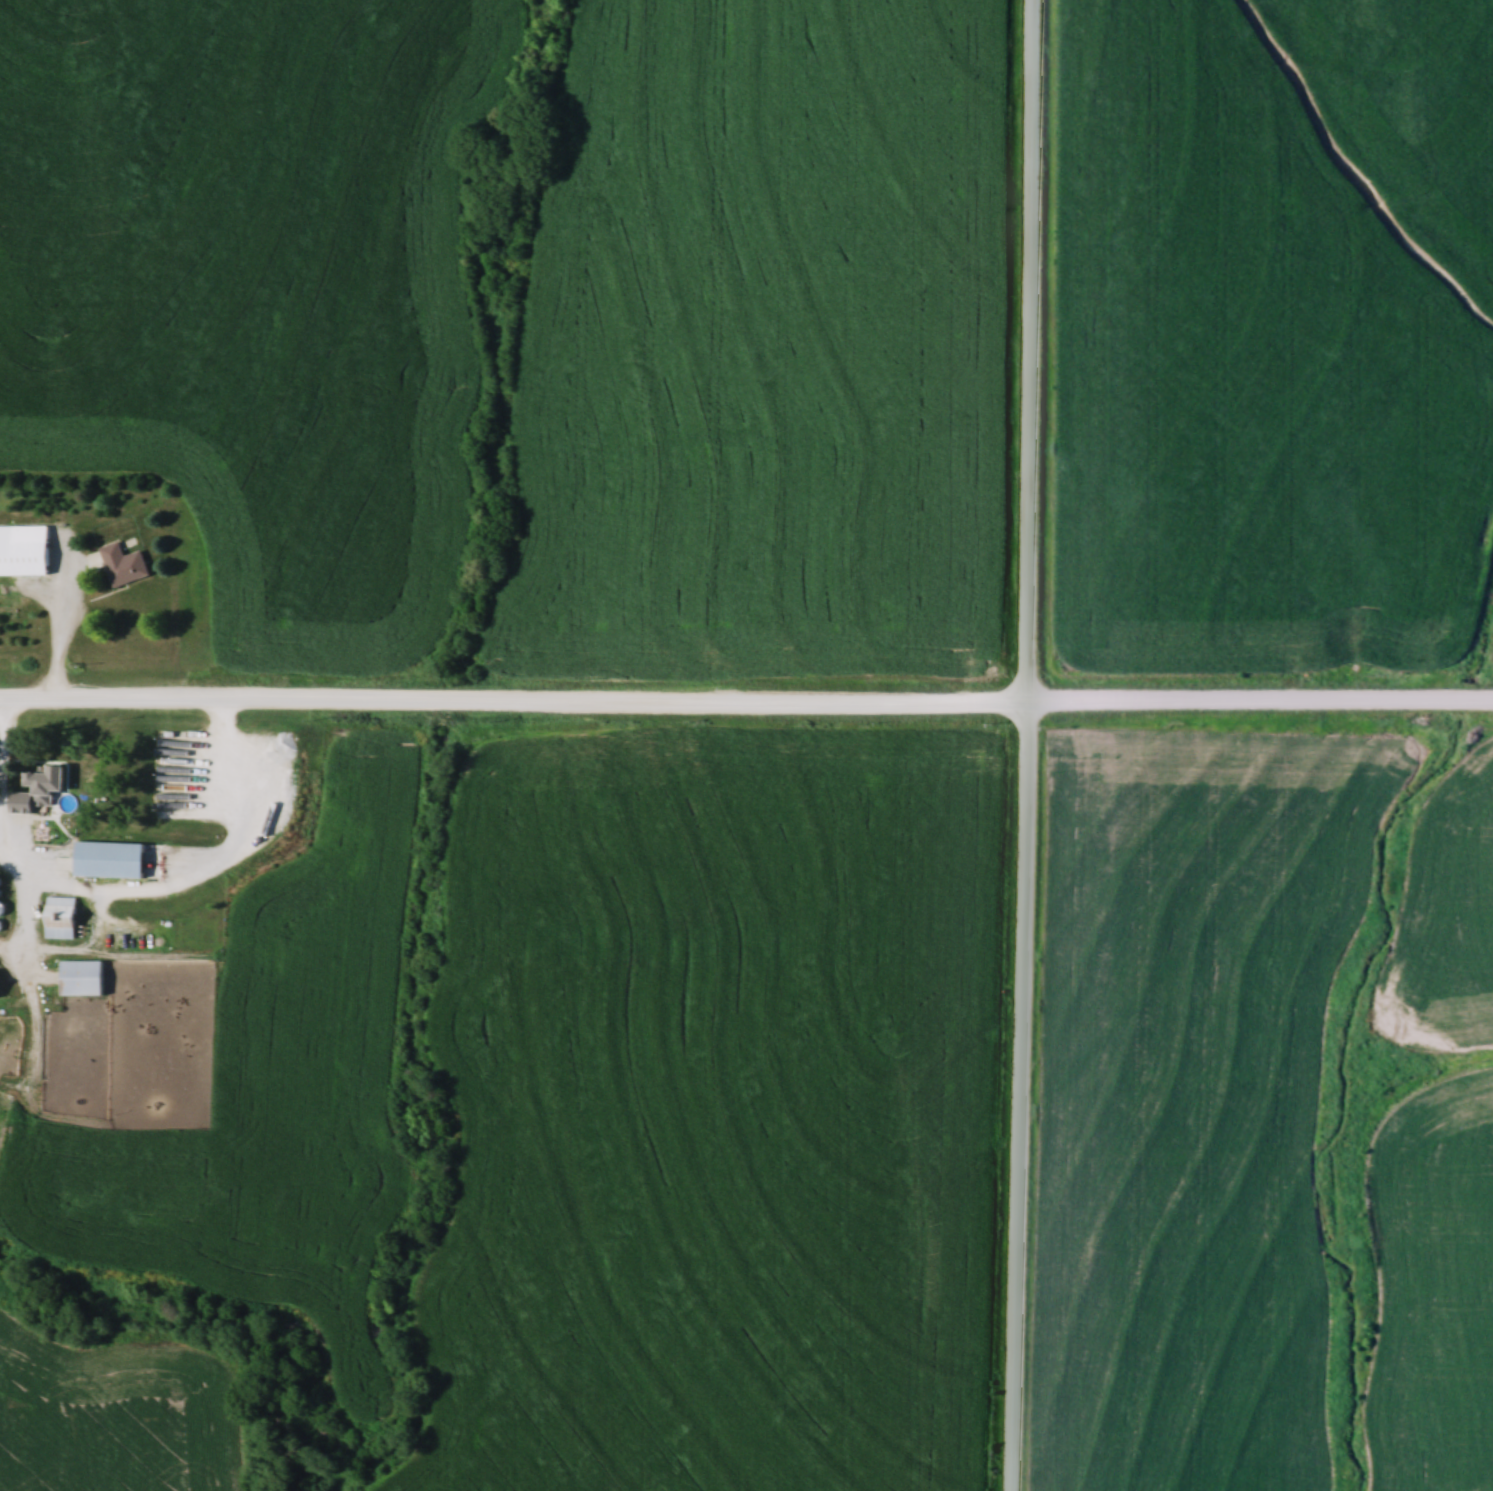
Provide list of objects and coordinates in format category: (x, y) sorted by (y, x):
building: (26, 550)
building: (125, 565)
road: (68, 632)
road: (746, 708)
road: (1031, 745)
road: (7, 782)
building: (46, 788)
building: (86, 979)
building: (1, 986)

